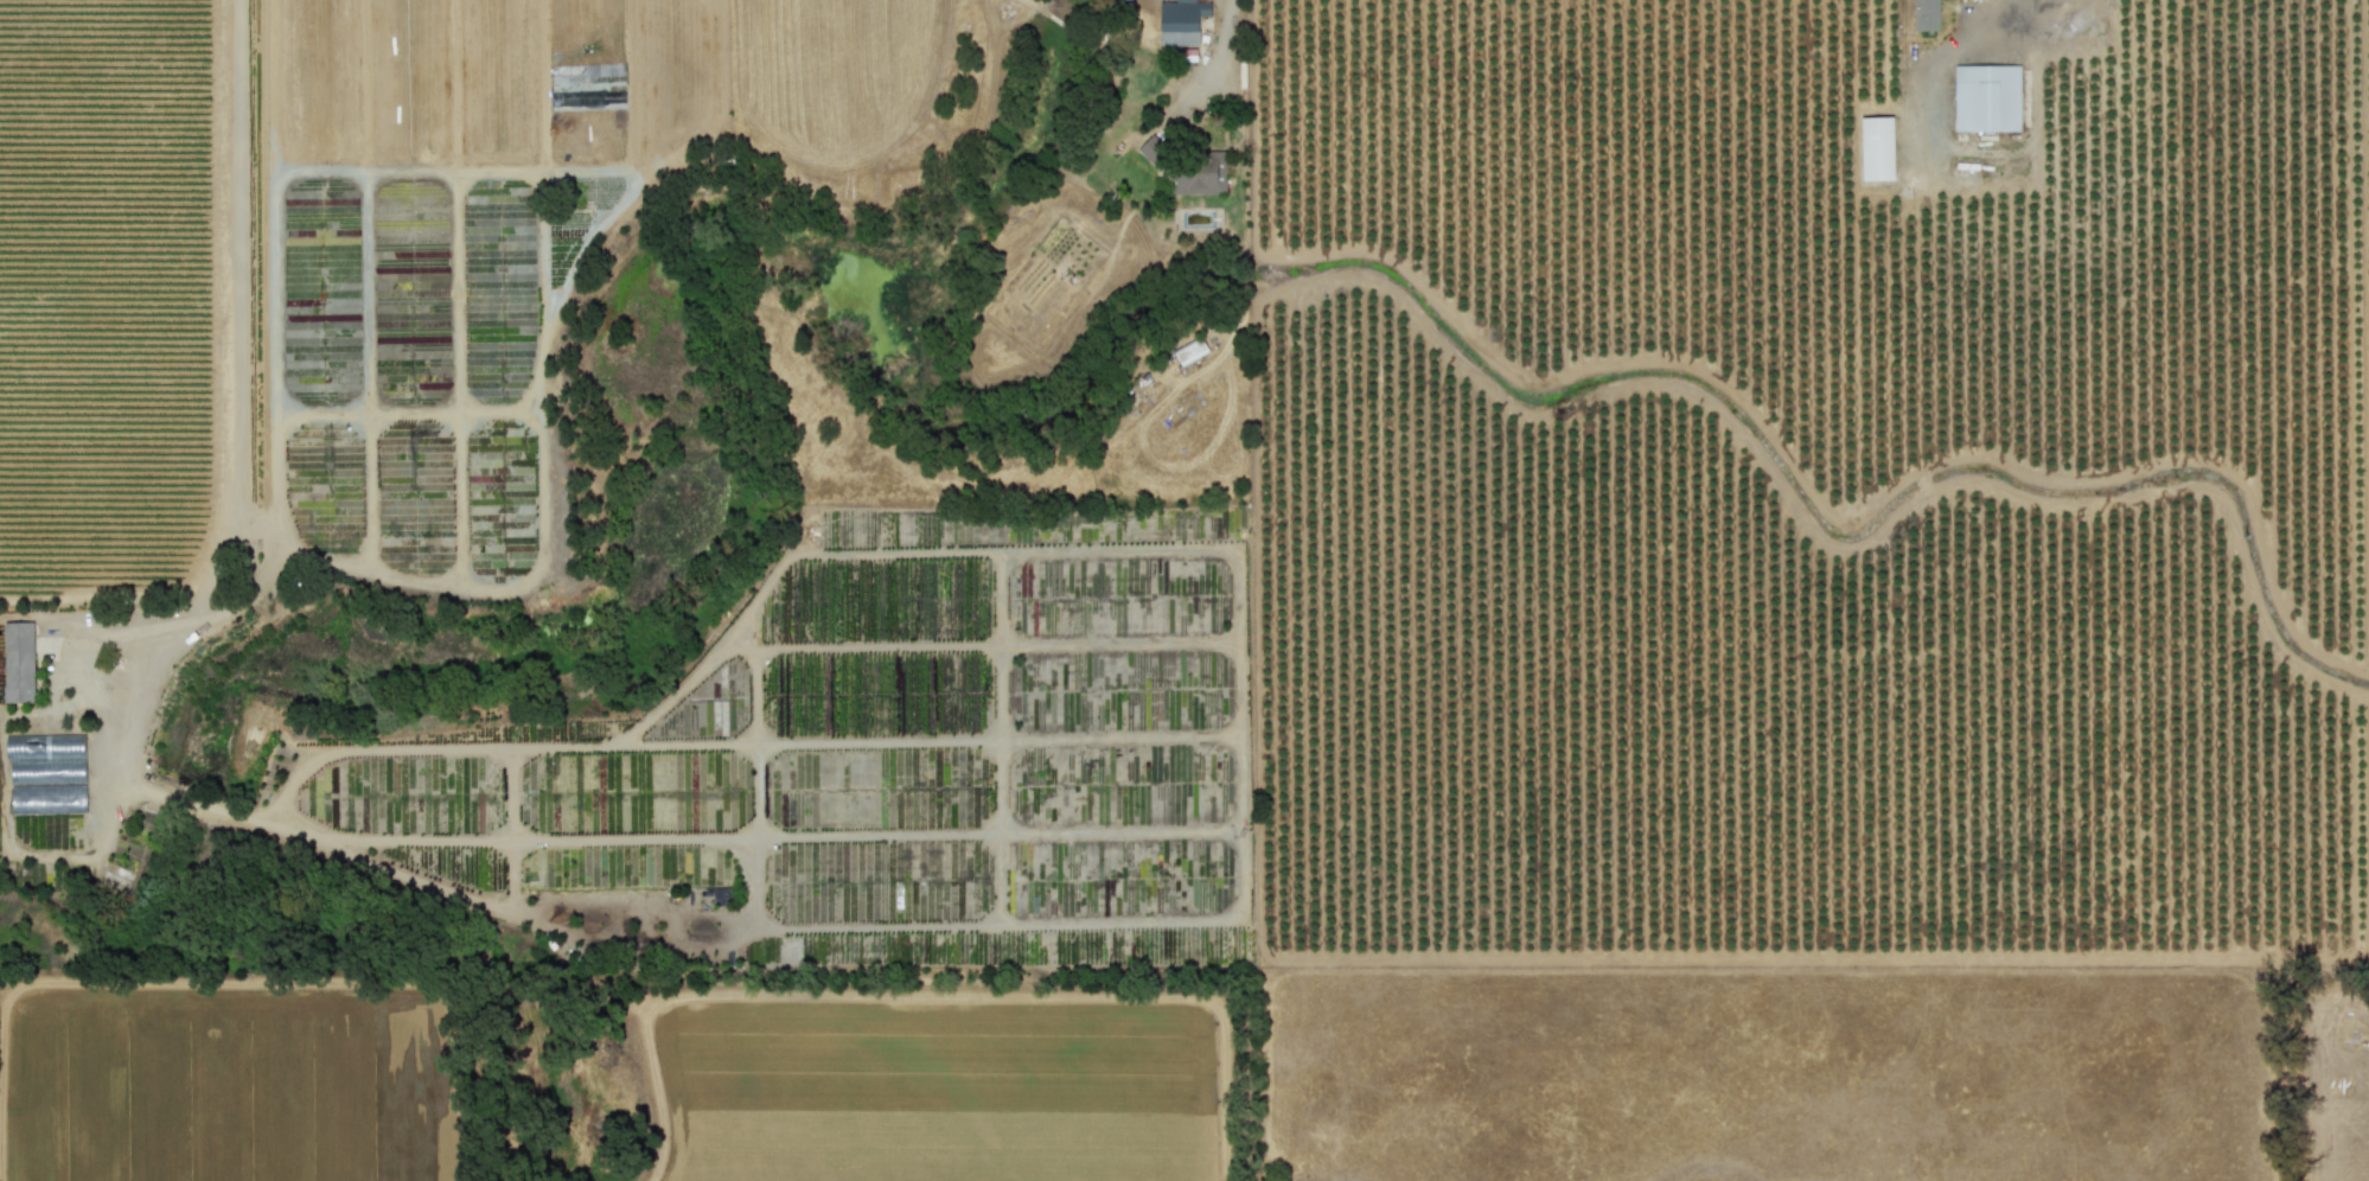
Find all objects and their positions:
road: (1998, 1)
building: (1924, 14)
building: (1180, 20)
road: (1231, 23)
building: (1986, 97)
building: (1876, 147)
building: (1155, 153)
road: (230, 346)
crop: (117, 452)
crop: (1585, 643)
building: (18, 660)
building: (50, 752)
crop: (213, 1062)

